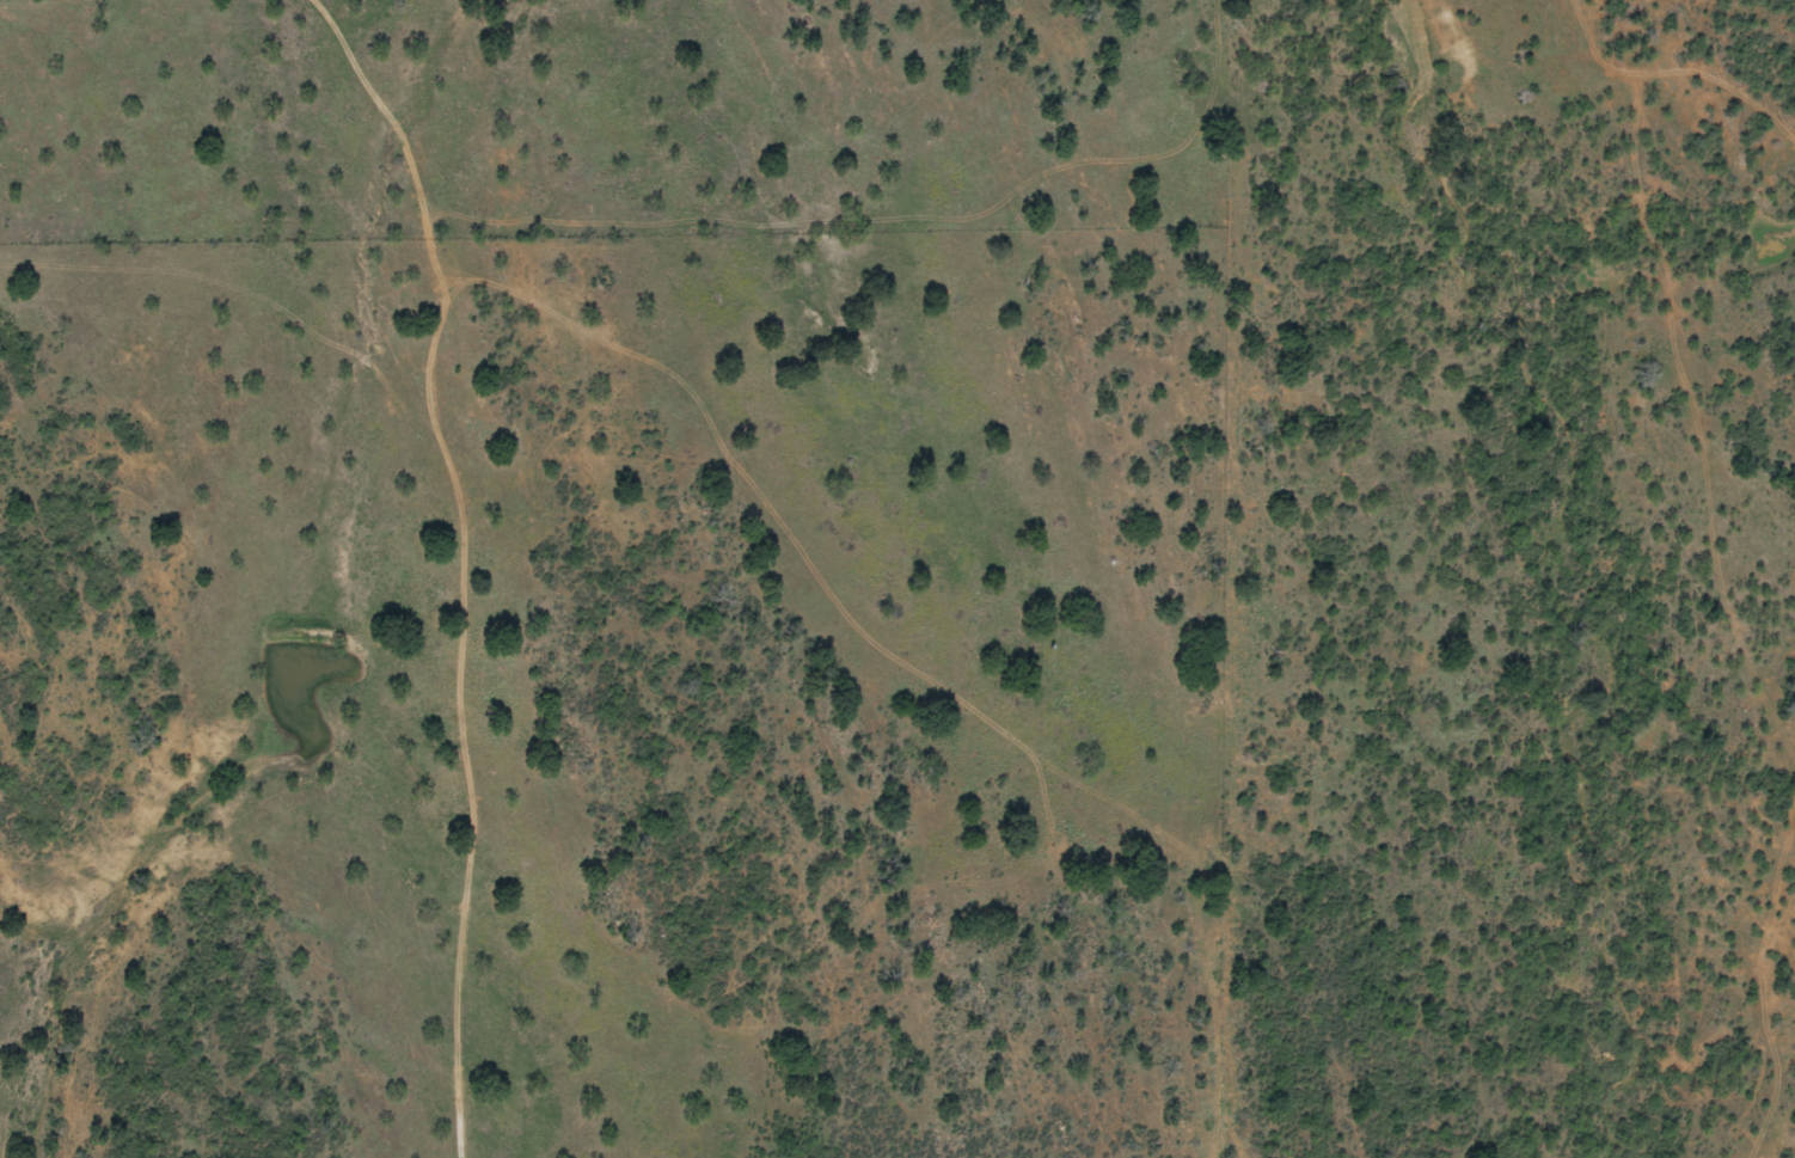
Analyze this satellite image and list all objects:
road: (473, 562)

